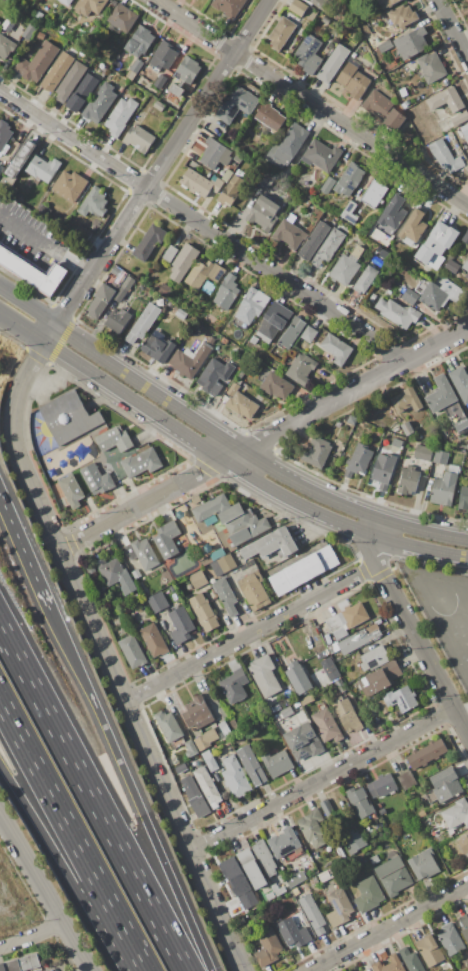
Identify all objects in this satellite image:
building: (65, 2)
building: (114, 2)
building: (319, 3)
building: (386, 3)
building: (89, 6)
building: (298, 7)
building: (227, 8)
building: (403, 16)
building: (122, 18)
building: (0, 19)
road: (451, 30)
building: (163, 31)
building: (281, 33)
building: (41, 36)
building: (140, 41)
building: (412, 43)
building: (385, 46)
building: (6, 47)
building: (164, 55)
building: (310, 55)
building: (354, 55)
building: (37, 63)
building: (333, 64)
building: (102, 66)
building: (432, 68)
building: (134, 69)
building: (188, 70)
building: (58, 72)
building: (353, 79)
building: (70, 81)
building: (160, 81)
building: (176, 90)
building: (403, 92)
building: (82, 93)
building: (446, 100)
building: (100, 103)
road: (310, 103)
building: (237, 104)
building: (406, 104)
building: (159, 106)
building: (383, 110)
building: (120, 116)
building: (270, 116)
building: (460, 119)
building: (465, 130)
building: (4, 136)
building: (139, 139)
building: (201, 141)
building: (291, 143)
building: (198, 148)
building: (215, 155)
building: (322, 155)
building: (445, 156)
building: (238, 157)
building: (19, 158)
road: (161, 162)
building: (1, 168)
building: (43, 168)
building: (227, 176)
building: (350, 179)
building: (467, 182)
building: (196, 183)
building: (216, 183)
building: (270, 185)
building: (328, 185)
building: (70, 186)
building: (234, 187)
building: (13, 191)
building: (311, 193)
building: (374, 194)
building: (306, 202)
building: (94, 204)
building: (262, 212)
building: (350, 213)
building: (393, 214)
building: (291, 217)
road: (202, 226)
building: (413, 228)
building: (83, 233)
parking lot: (29, 234)
building: (290, 234)
building: (465, 238)
building: (314, 241)
building: (149, 242)
building: (437, 242)
road: (44, 244)
building: (328, 247)
building: (170, 253)
building: (436, 261)
building: (183, 262)
building: (453, 266)
building: (465, 266)
building: (346, 270)
building: (32, 271)
building: (120, 273)
building: (204, 274)
building: (467, 276)
building: (365, 279)
building: (208, 288)
building: (166, 290)
building: (122, 291)
building: (227, 292)
building: (437, 293)
building: (411, 296)
building: (101, 301)
road: (27, 305)
building: (251, 306)
building: (172, 307)
building: (180, 313)
building: (398, 313)
building: (118, 320)
building: (274, 321)
building: (143, 323)
road: (22, 328)
building: (292, 332)
building: (309, 334)
building: (211, 340)
building: (157, 347)
building: (337, 348)
building: (189, 360)
building: (301, 369)
building: (240, 374)
building: (215, 376)
building: (460, 382)
building: (276, 385)
road: (353, 388)
building: (233, 389)
building: (441, 395)
building: (406, 401)
building: (242, 405)
building: (68, 417)
building: (461, 424)
building: (407, 428)
building: (113, 439)
building: (397, 443)
building: (318, 453)
building: (423, 453)
building: (116, 454)
road: (231, 455)
road: (249, 456)
building: (441, 457)
building: (359, 461)
building: (140, 462)
building: (384, 470)
road: (244, 473)
building: (96, 479)
building: (409, 480)
building: (443, 489)
building: (70, 490)
building: (463, 497)
building: (195, 499)
road: (139, 505)
building: (231, 519)
road: (378, 527)
building: (166, 539)
building: (271, 544)
road: (24, 553)
building: (142, 553)
building: (216, 554)
building: (225, 564)
building: (90, 569)
building: (303, 570)
building: (111, 571)
building: (138, 577)
building: (198, 579)
road: (72, 589)
building: (171, 589)
building: (254, 590)
building: (227, 597)
building: (157, 601)
building: (204, 612)
building: (347, 620)
building: (181, 625)
road: (249, 632)
road: (414, 638)
building: (154, 640)
building: (357, 640)
building: (332, 649)
building: (132, 651)
building: (321, 655)
building: (374, 658)
building: (332, 672)
building: (265, 675)
building: (298, 678)
building: (380, 678)
building: (235, 683)
building: (340, 686)
building: (307, 700)
building: (405, 700)
building: (384, 706)
road: (460, 708)
building: (276, 709)
building: (286, 711)
building: (197, 713)
building: (347, 715)
building: (277, 717)
building: (327, 726)
building: (170, 727)
building: (224, 727)
building: (206, 739)
building: (304, 741)
building: (190, 749)
building: (426, 754)
building: (209, 760)
building: (278, 763)
building: (252, 765)
building: (181, 768)
building: (235, 777)
road: (320, 779)
building: (407, 780)
building: (208, 786)
building: (382, 786)
building: (444, 786)
road: (129, 789)
building: (195, 797)
road: (92, 798)
building: (360, 803)
building: (328, 809)
building: (382, 811)
building: (457, 814)
building: (313, 828)
building: (451, 831)
road: (72, 835)
building: (355, 841)
building: (465, 843)
building: (286, 845)
building: (264, 858)
building: (374, 859)
building: (424, 864)
road: (69, 865)
building: (252, 868)
building: (393, 875)
building: (324, 876)
building: (296, 879)
building: (313, 880)
building: (238, 882)
building: (338, 885)
building: (278, 890)
building: (296, 891)
road: (46, 895)
building: (368, 895)
building: (270, 896)
building: (339, 908)
road: (215, 911)
building: (313, 914)
building: (242, 921)
building: (464, 926)
road: (388, 927)
building: (294, 932)
road: (32, 935)
building: (451, 939)
building: (268, 947)
building: (430, 950)
building: (381, 953)
building: (411, 960)
building: (22, 964)
building: (390, 964)
road: (83, 968)

